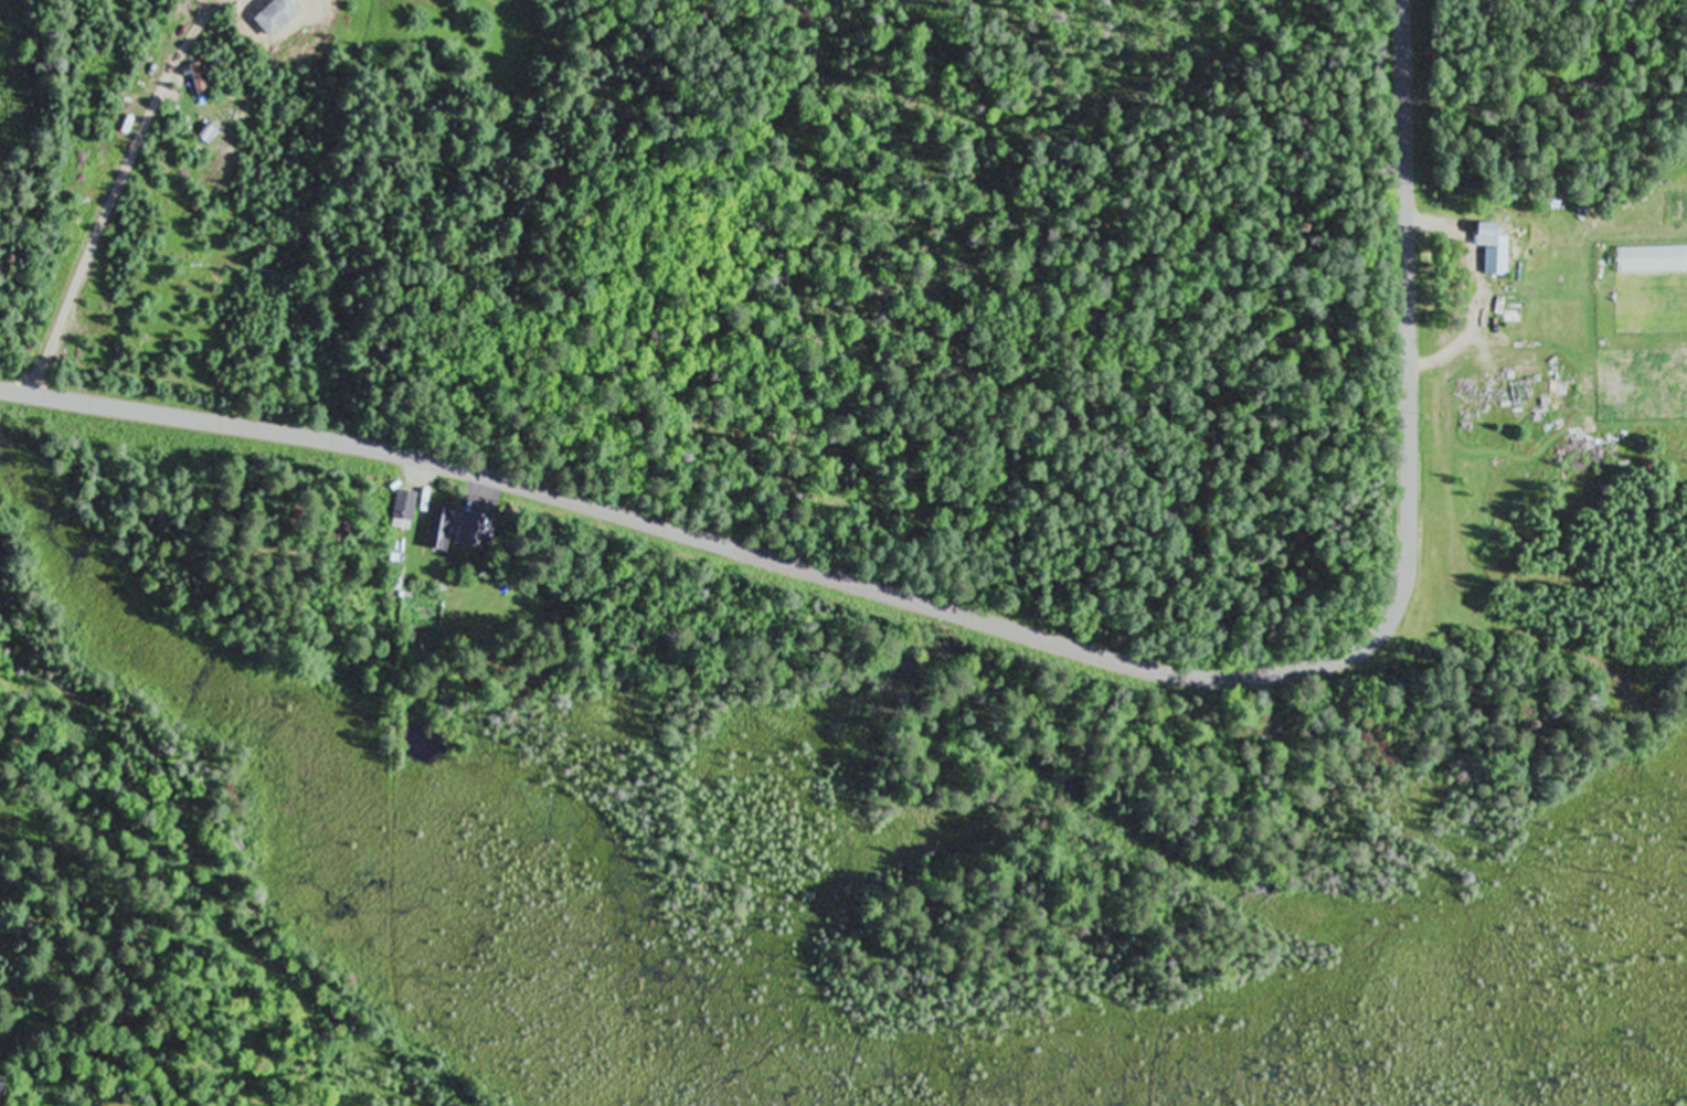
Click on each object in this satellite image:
building: (1495, 246)
building: (405, 503)
building: (441, 527)
building: (475, 531)
road: (1004, 620)

